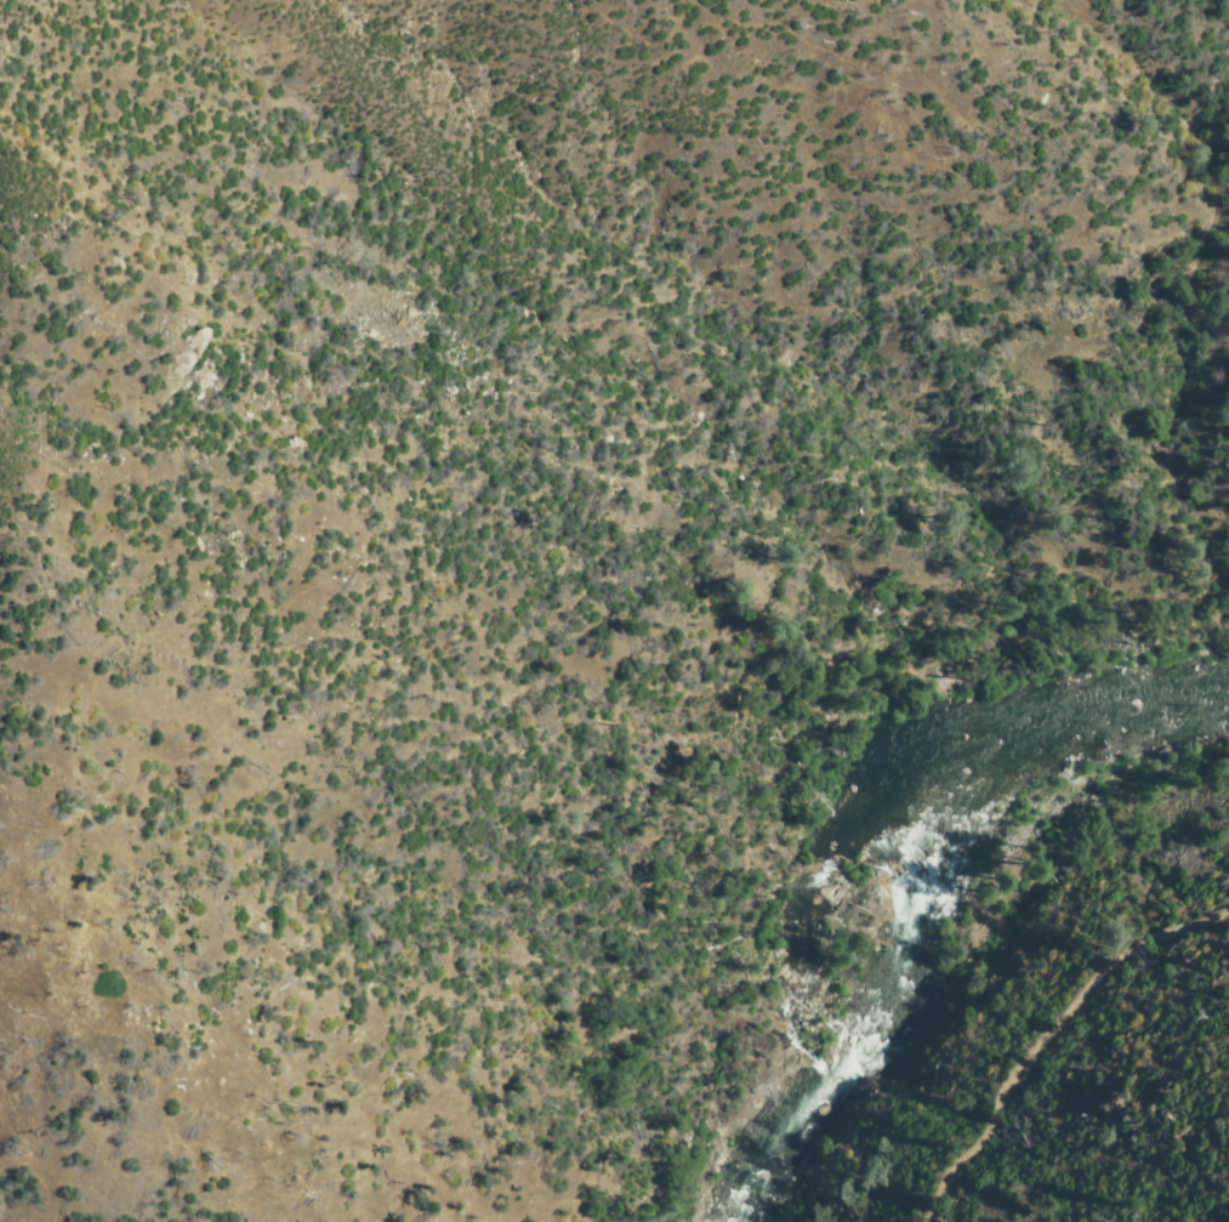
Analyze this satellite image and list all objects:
river: (922, 894)
road: (1053, 1035)

